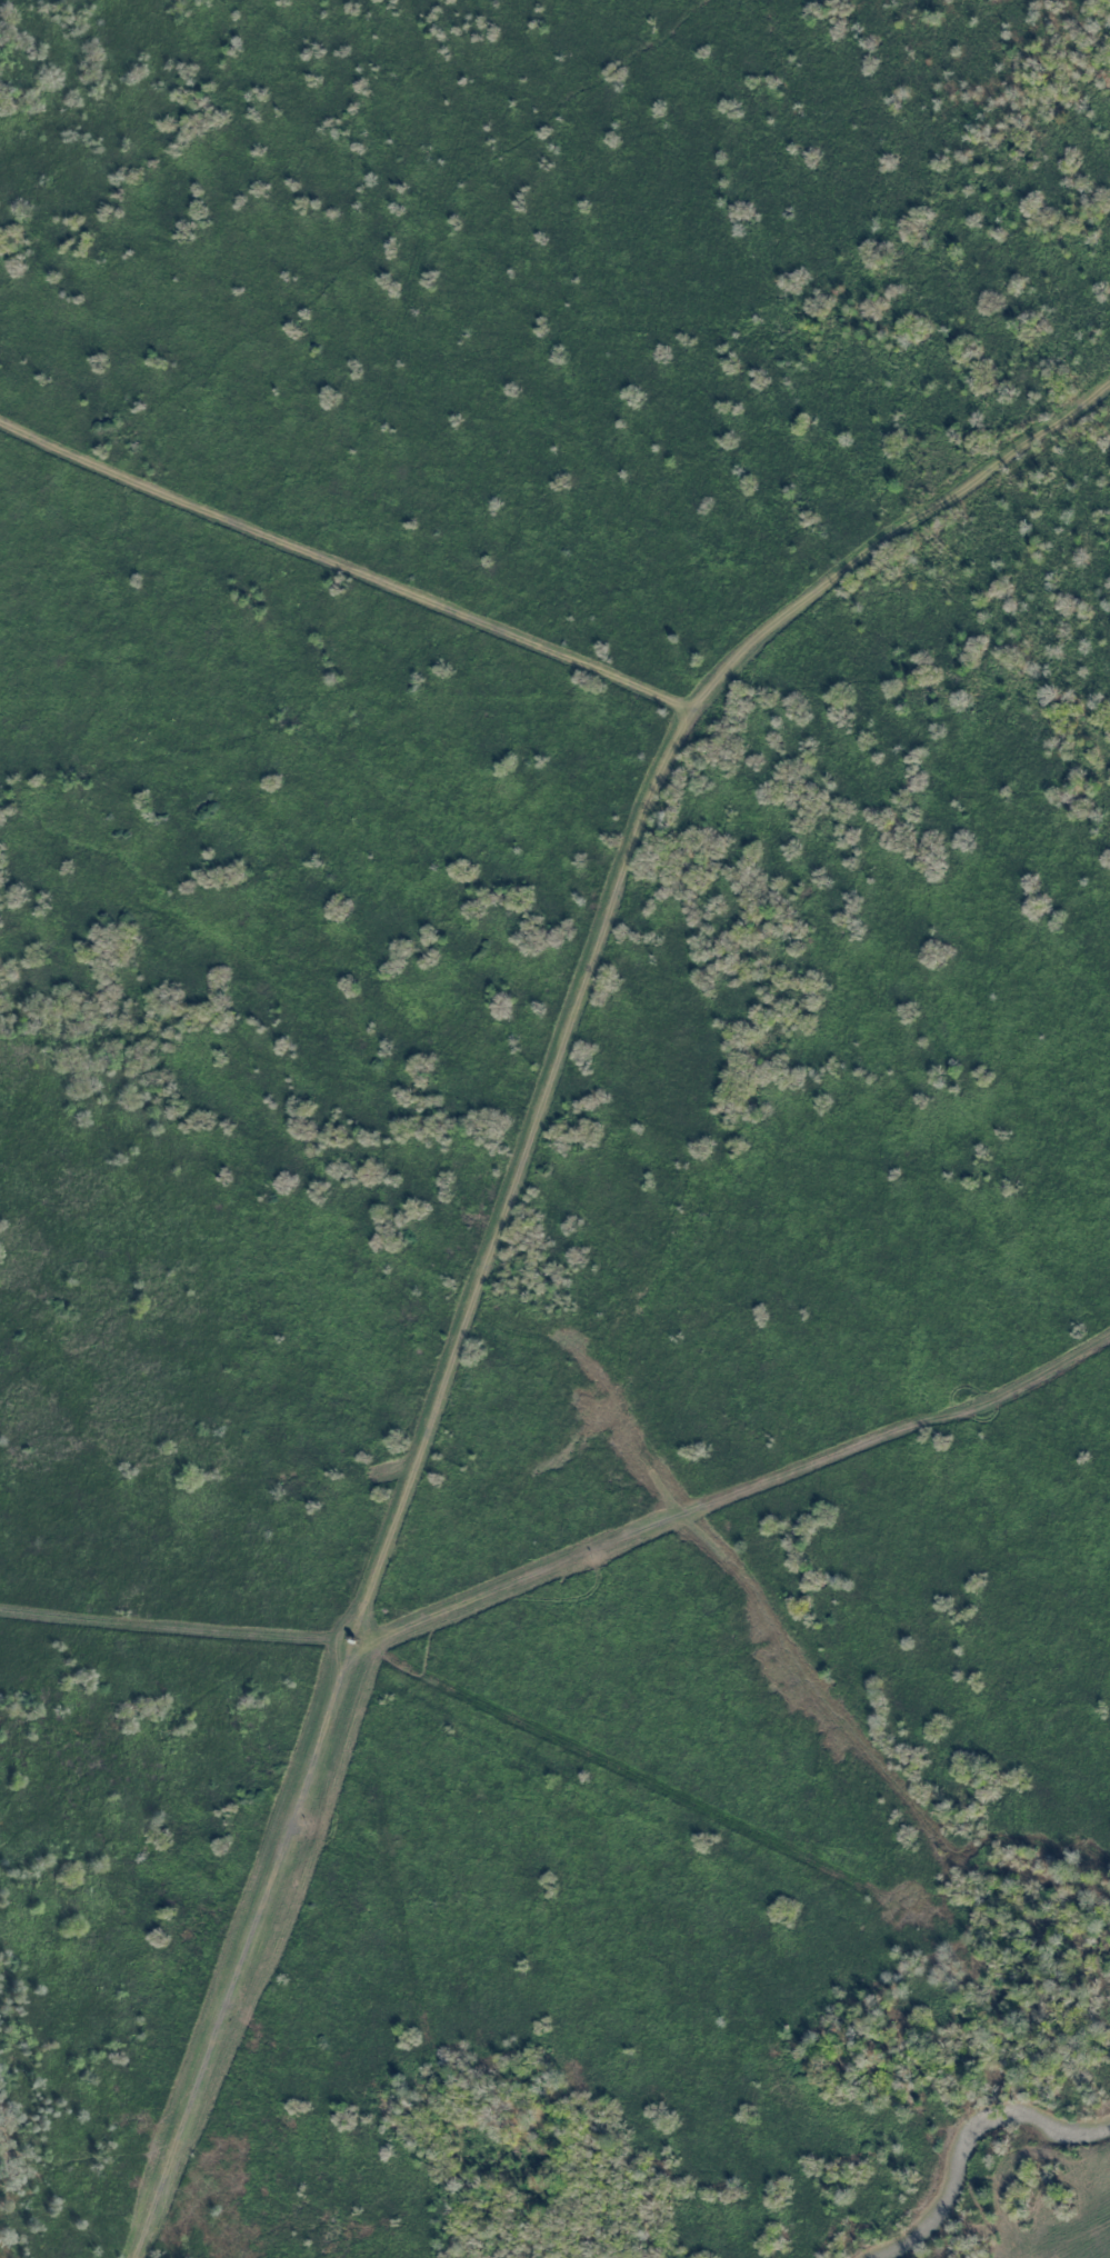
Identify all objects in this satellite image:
road: (498, 1232)
road: (622, 1765)

